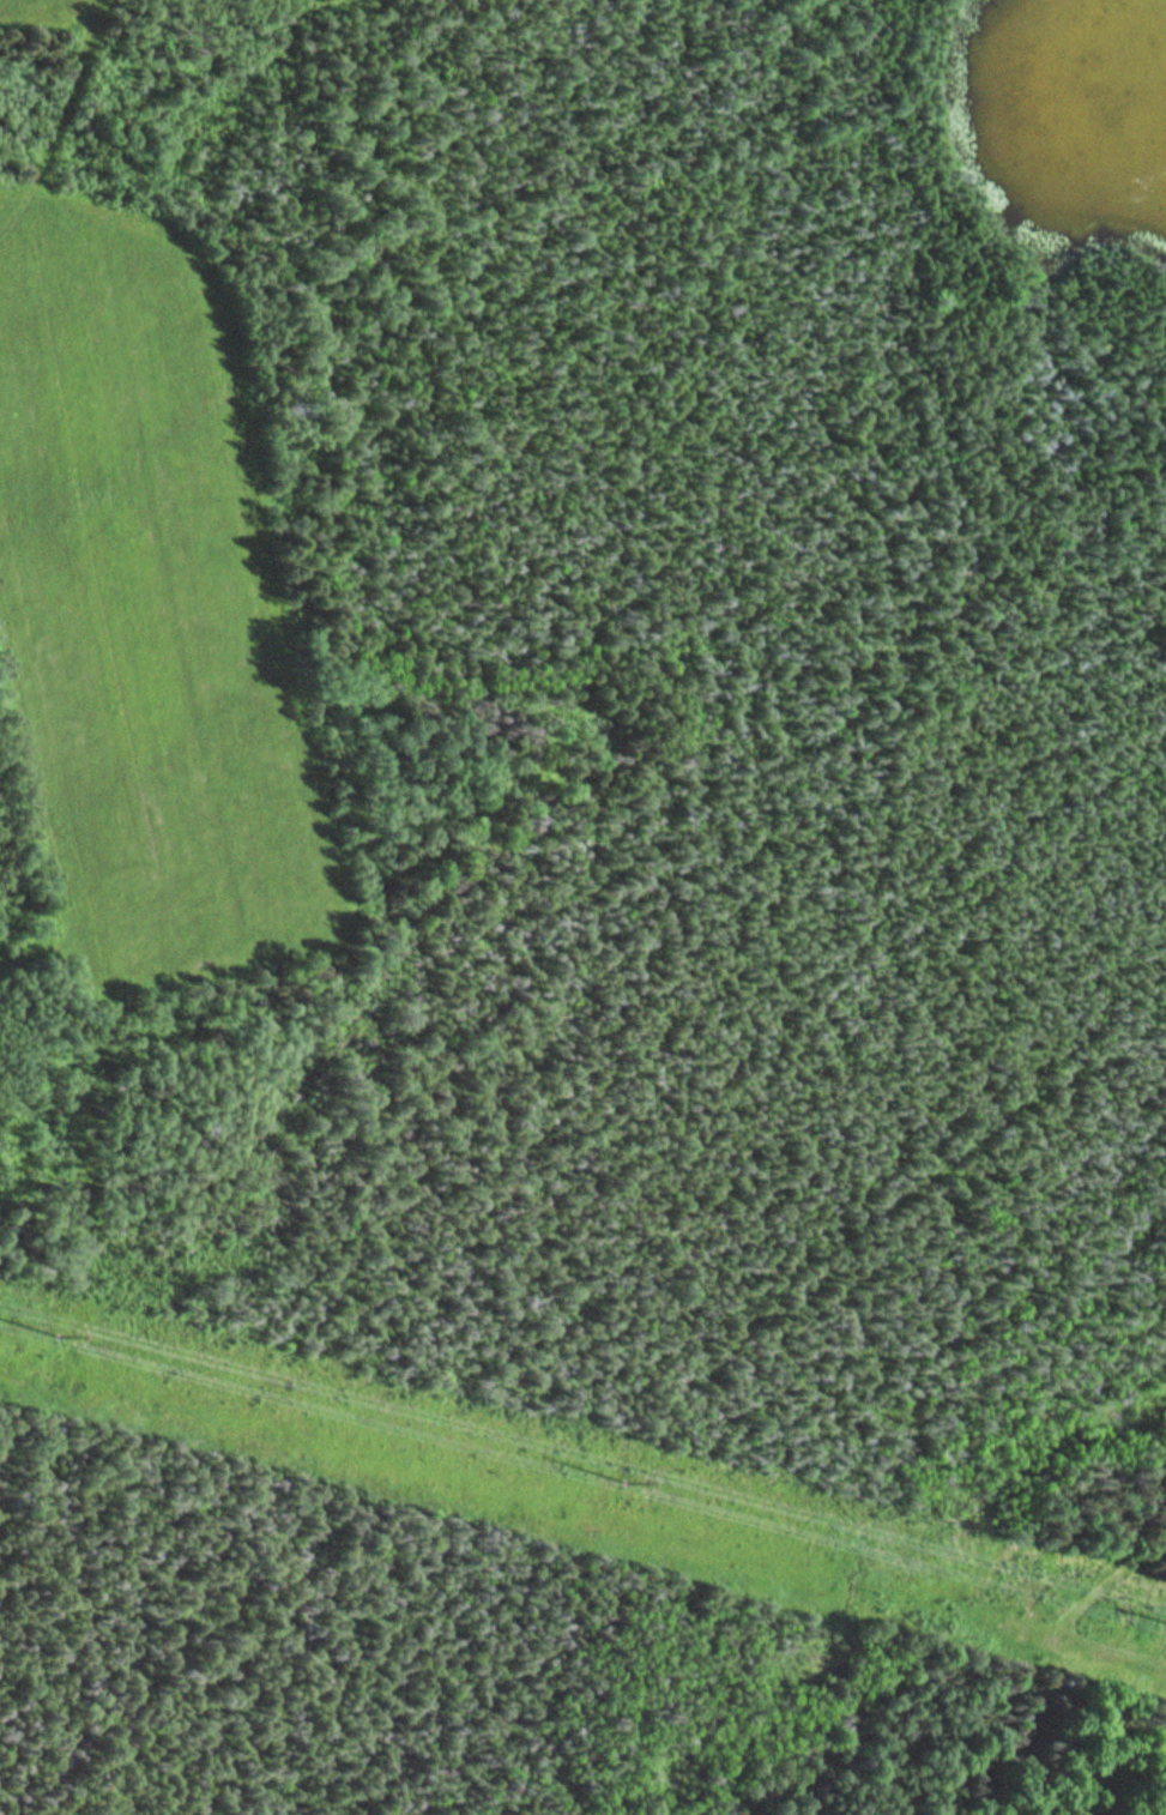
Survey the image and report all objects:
power tower: (55, 1335)
power tower: (617, 1484)

